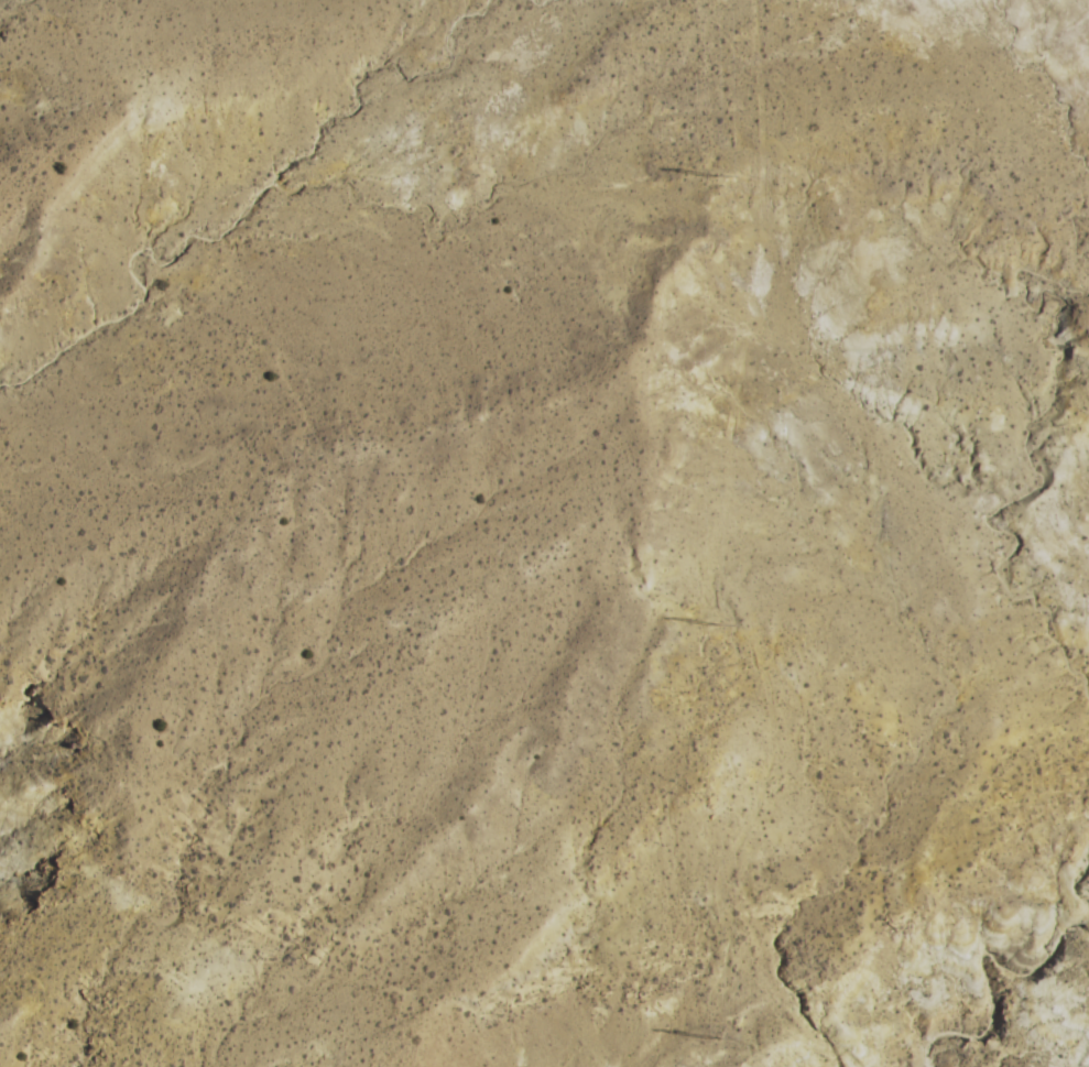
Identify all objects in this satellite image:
power tower: (718, 174)
power tower: (715, 622)
power tower: (716, 1036)

